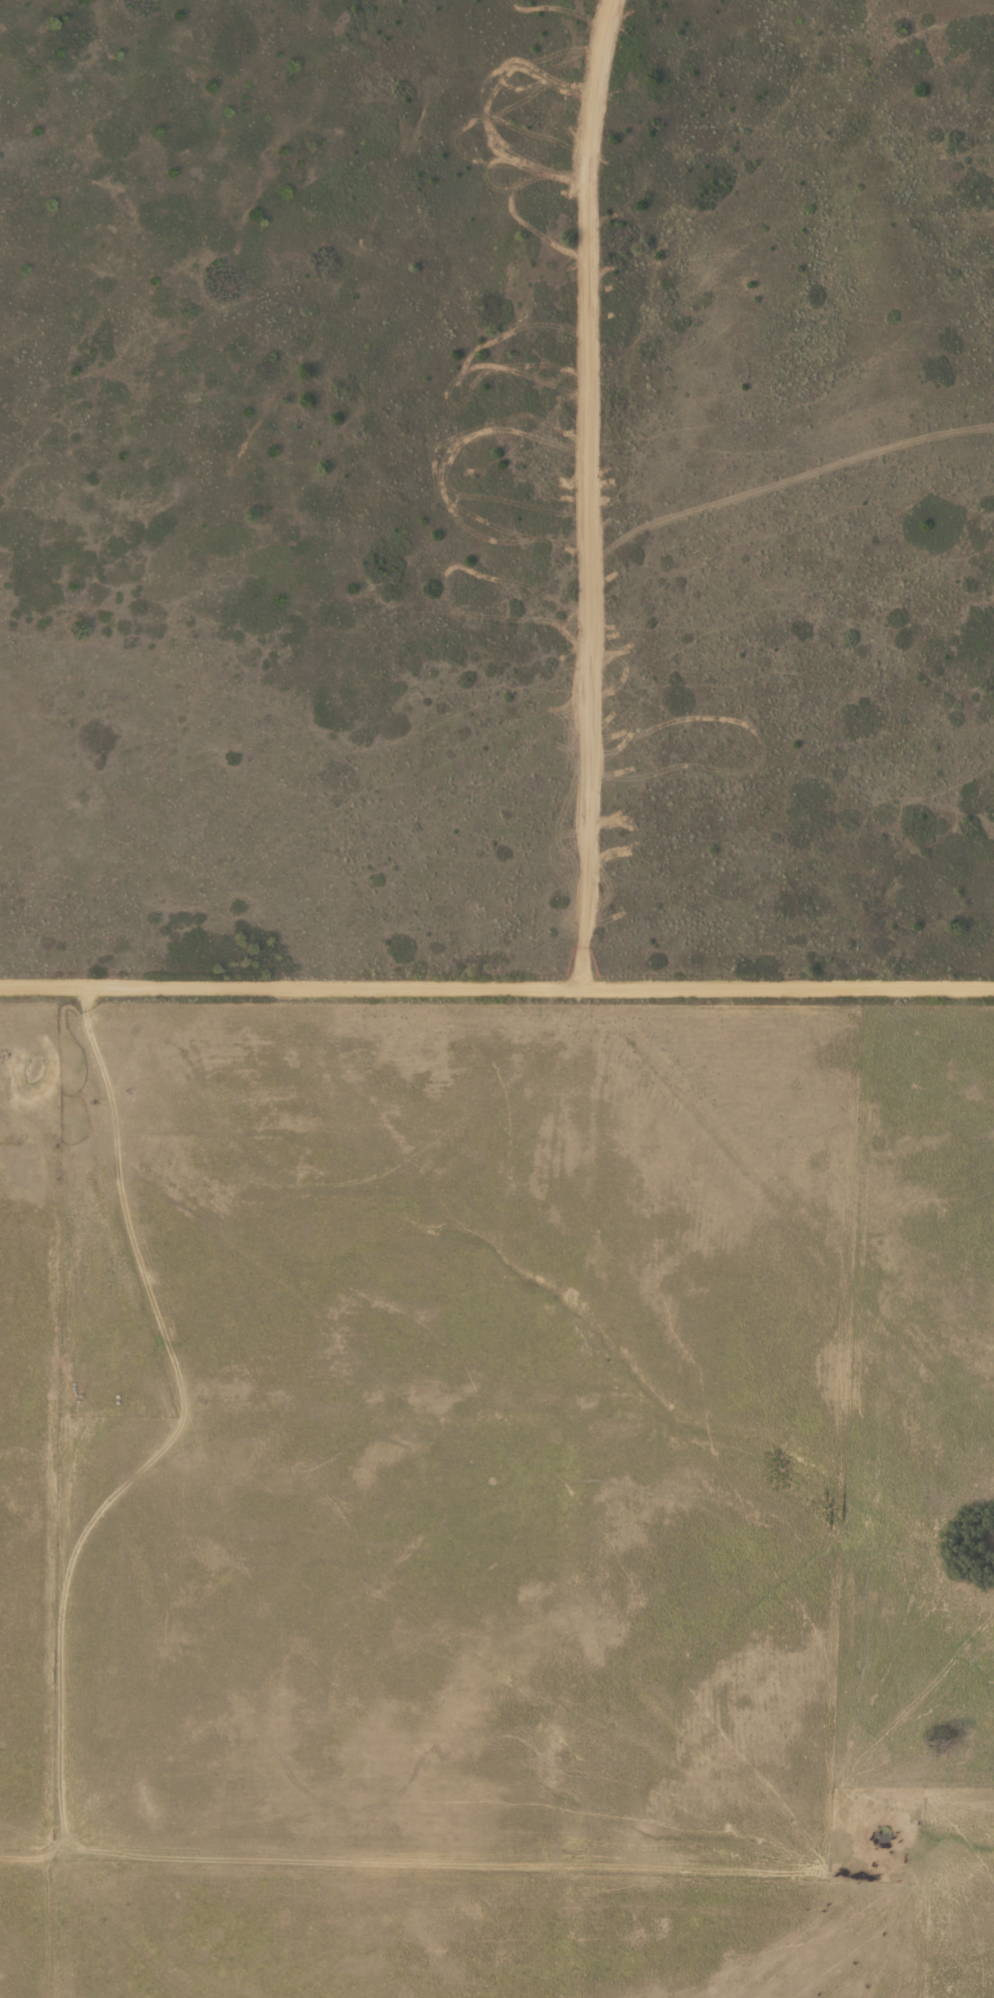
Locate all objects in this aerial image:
road: (497, 986)

